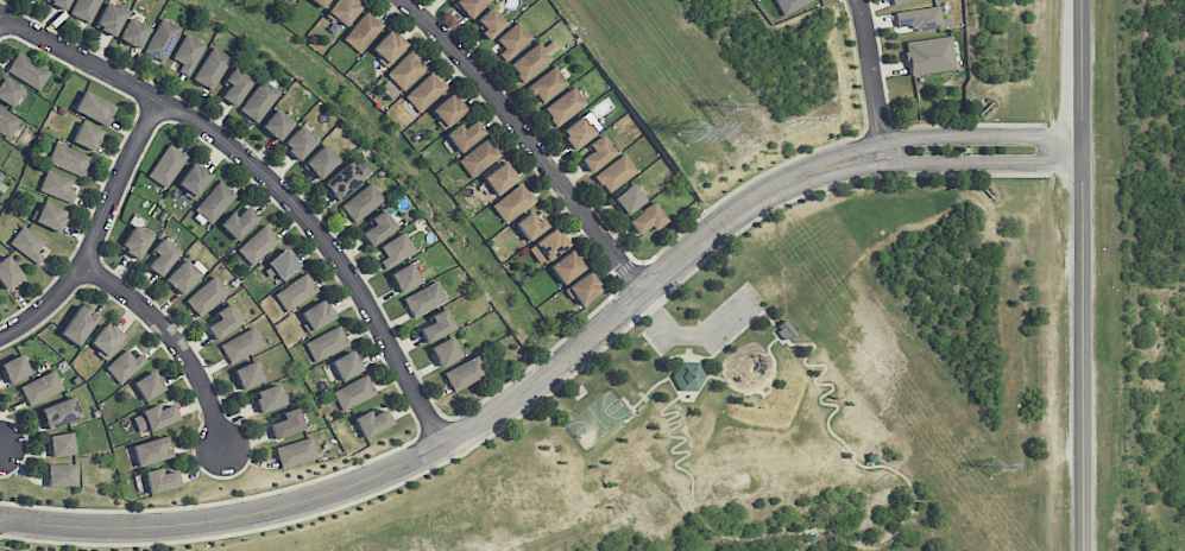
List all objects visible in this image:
building: (295, 0)
building: (448, 0)
building: (894, 0)
building: (59, 2)
building: (320, 2)
building: (789, 4)
building: (469, 6)
building: (84, 8)
building: (343, 9)
road: (0, 14)
building: (920, 18)
building: (109, 19)
building: (490, 23)
building: (363, 31)
building: (134, 32)
building: (162, 39)
building: (513, 39)
building: (387, 46)
building: (188, 53)
building: (929, 55)
building: (535, 58)
building: (212, 68)
building: (27, 70)
building: (405, 70)
road: (872, 81)
building: (547, 84)
building: (234, 87)
building: (8, 90)
building: (424, 91)
building: (259, 101)
building: (565, 106)
building: (94, 107)
power tower: (727, 107)
building: (447, 109)
building: (7, 121)
building: (277, 125)
building: (580, 129)
building: (464, 134)
power tower: (694, 134)
road: (943, 134)
building: (87, 135)
road: (530, 139)
building: (300, 142)
building: (598, 153)
building: (478, 157)
building: (69, 159)
building: (321, 161)
road: (946, 163)
building: (166, 165)
building: (616, 172)
building: (1, 175)
road: (270, 177)
building: (498, 177)
building: (193, 179)
building: (343, 180)
building: (56, 185)
building: (629, 198)
building: (214, 202)
building: (363, 202)
building: (512, 202)
building: (49, 215)
building: (647, 218)
building: (239, 222)
building: (529, 224)
building: (378, 227)
road: (96, 230)
building: (134, 241)
building: (27, 243)
building: (258, 245)
building: (547, 246)
building: (396, 249)
building: (162, 258)
building: (283, 262)
building: (566, 267)
building: (8, 272)
road: (1082, 274)
building: (183, 275)
building: (404, 277)
building: (584, 287)
building: (296, 291)
building: (206, 296)
building: (424, 298)
building: (316, 315)
building: (223, 321)
building: (78, 324)
parking lot: (706, 324)
building: (436, 325)
road: (696, 332)
building: (105, 338)
road: (174, 340)
building: (327, 342)
building: (241, 344)
building: (445, 351)
building: (124, 365)
building: (343, 366)
building: (14, 368)
building: (464, 373)
building: (247, 374)
building: (688, 376)
building: (149, 385)
building: (40, 387)
building: (354, 392)
building: (269, 398)
building: (59, 412)
building: (155, 417)
building: (372, 422)
building: (286, 423)
park: (750, 426)
road: (443, 441)
building: (62, 444)
building: (151, 450)
building: (295, 451)
power tower: (998, 467)
building: (61, 474)
building: (160, 480)

